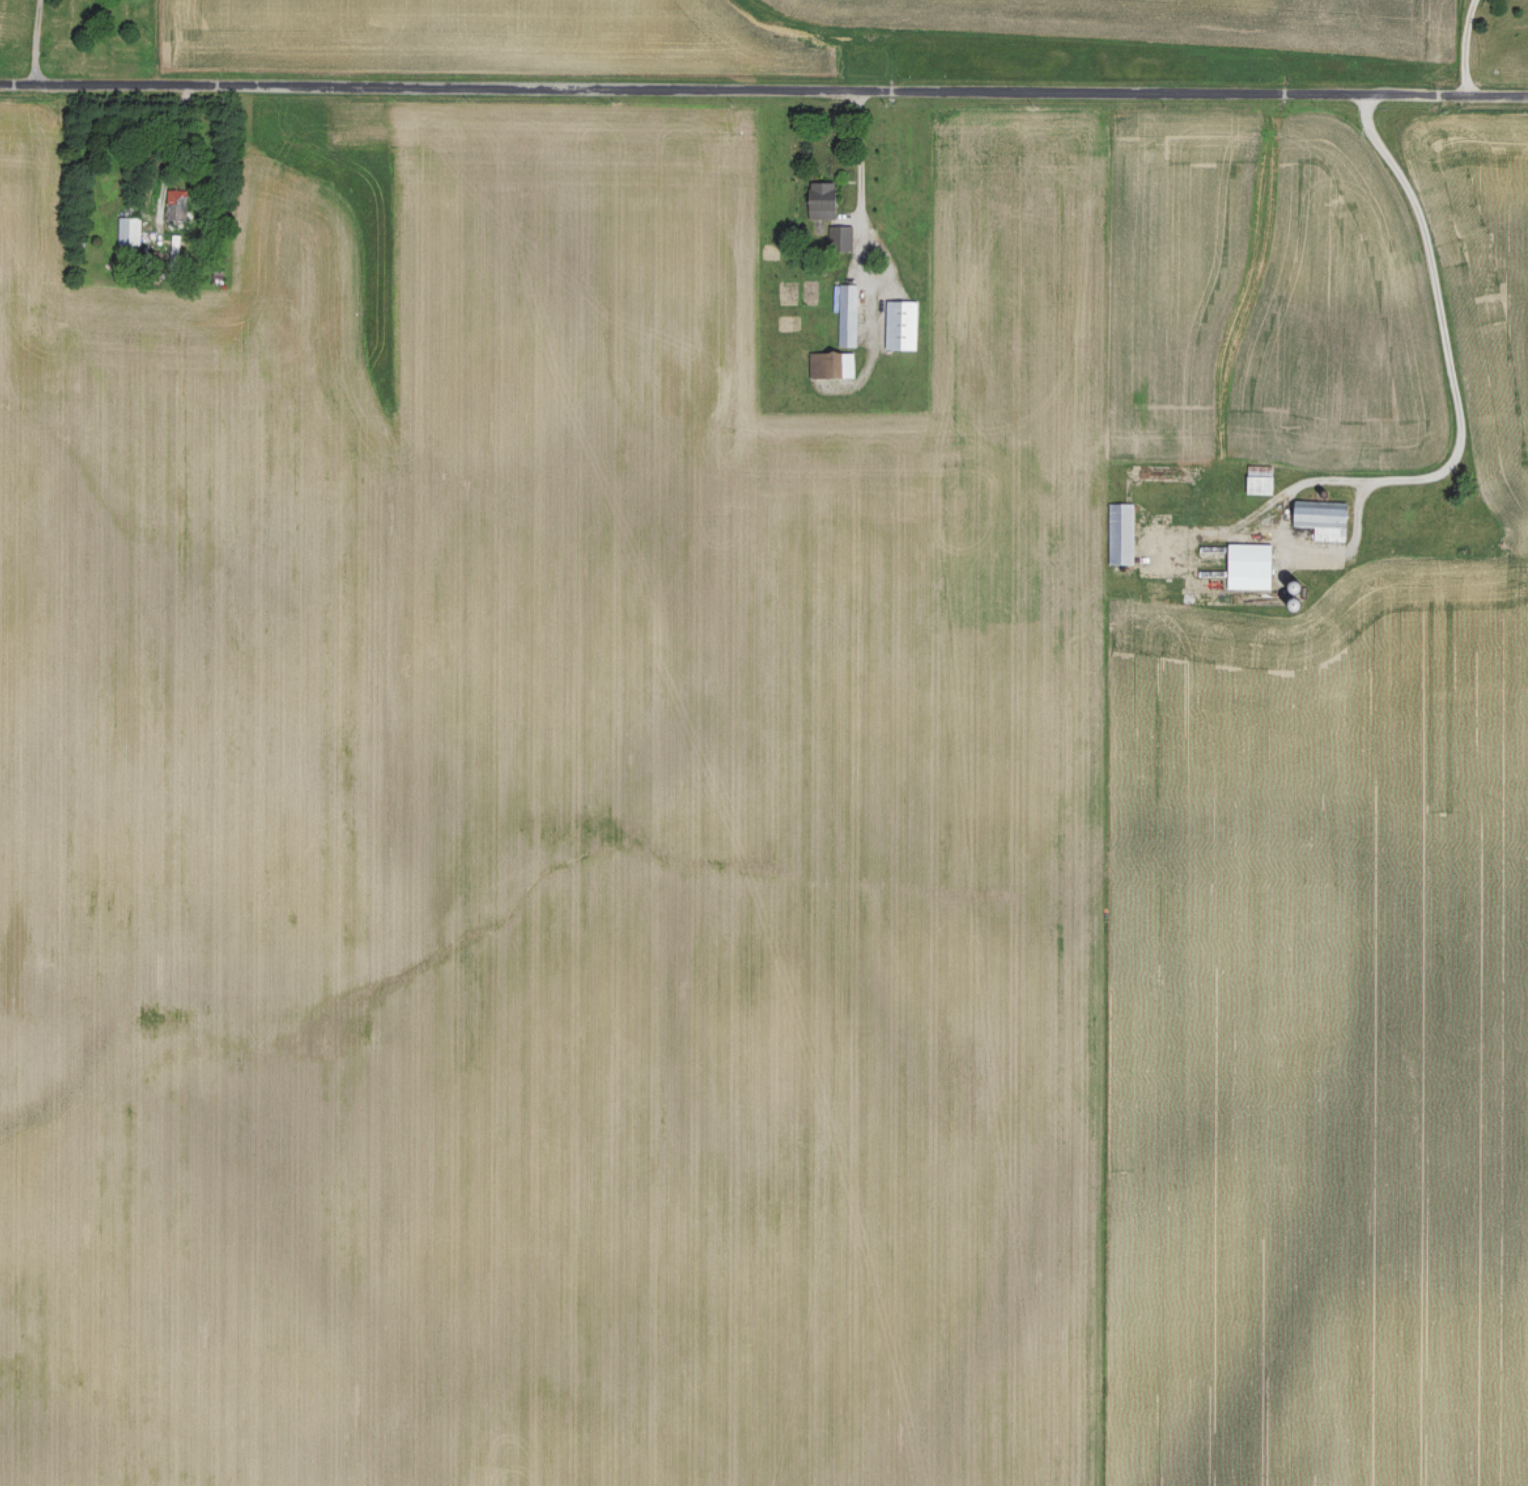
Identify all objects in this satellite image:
road: (36, 40)
road: (1464, 46)
road: (764, 89)
road: (172, 146)
road: (859, 168)
building: (821, 202)
building: (125, 230)
building: (847, 314)
road: (1444, 323)
building: (901, 326)
building: (841, 364)
building: (1262, 480)
building: (1324, 518)
building: (1122, 532)
building: (1250, 565)

